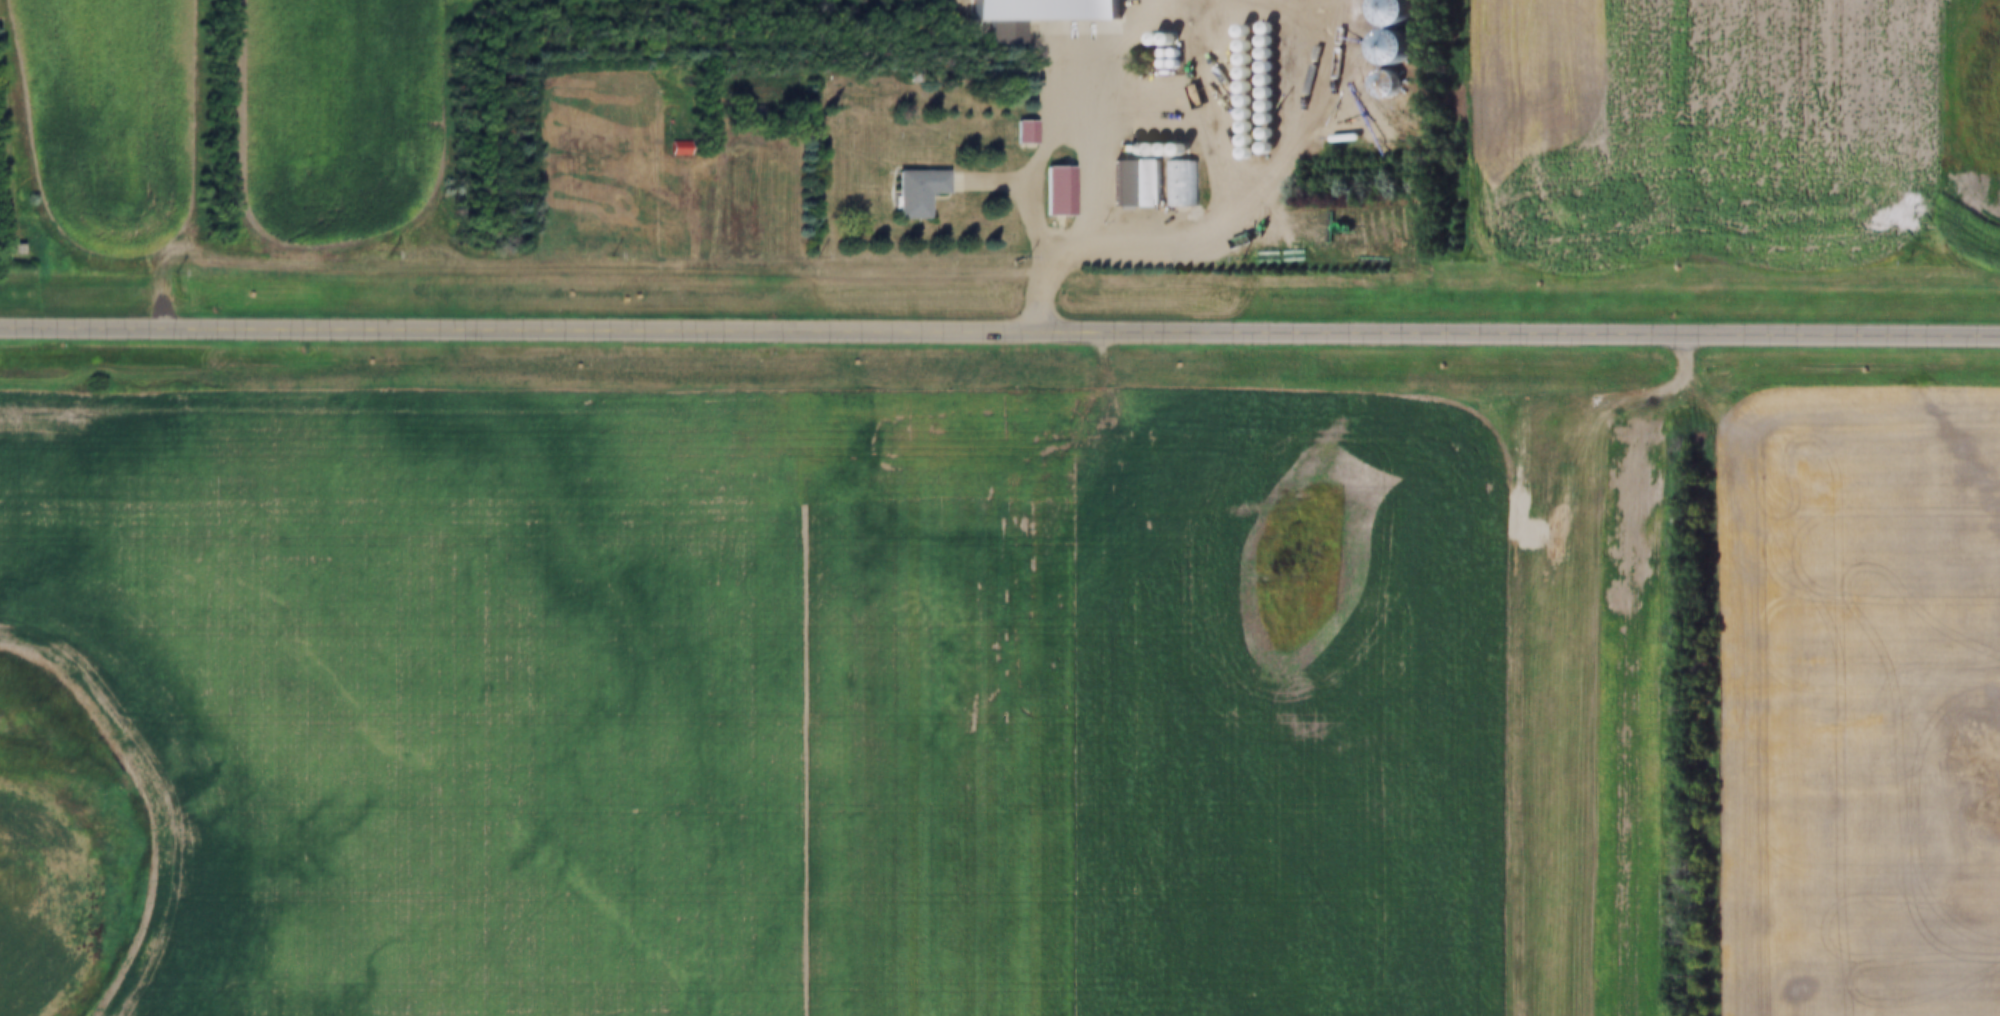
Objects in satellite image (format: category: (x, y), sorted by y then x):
road: (1242, 8)
building: (1038, 10)
building: (1385, 11)
silo: (1385, 11)
building: (1258, 27)
silo: (1258, 27)
building: (1236, 31)
silo: (1236, 31)
building: (1258, 40)
silo: (1258, 40)
building: (1237, 46)
silo: (1237, 46)
building: (1385, 47)
silo: (1385, 47)
storage tank: (1157, 52)
storage tank: (1168, 52)
building: (1258, 53)
silo: (1258, 53)
building: (1237, 60)
silo: (1237, 60)
storage tank: (1157, 62)
storage tank: (1167, 62)
building: (1258, 67)
silo: (1258, 67)
building: (1237, 74)
silo: (1237, 74)
building: (1259, 80)
silo: (1259, 80)
building: (1237, 87)
silo: (1237, 87)
building: (1259, 93)
silo: (1259, 93)
building: (1238, 101)
silo: (1238, 101)
building: (1259, 106)
silo: (1259, 106)
building: (1238, 114)
silo: (1238, 114)
building: (1259, 119)
silo: (1259, 119)
building: (1239, 127)
silo: (1239, 127)
building: (1018, 133)
building: (1259, 133)
silo: (1259, 133)
building: (1239, 141)
silo: (1239, 141)
building: (678, 146)
building: (1259, 148)
silo: (1259, 148)
building: (1122, 150)
silo: (1122, 150)
building: (1135, 150)
silo: (1135, 150)
building: (1148, 150)
silo: (1148, 150)
building: (1161, 150)
silo: (1161, 150)
building: (1173, 150)
silo: (1173, 150)
building: (1239, 153)
silo: (1239, 153)
building: (1110, 184)
building: (1134, 184)
building: (1175, 184)
building: (908, 192)
building: (1049, 192)
building: (7, 250)
road: (78, 325)
road: (462, 327)
road: (1384, 331)
road: (1631, 393)
airport: (1554, 700)
airport runway: (1550, 720)

